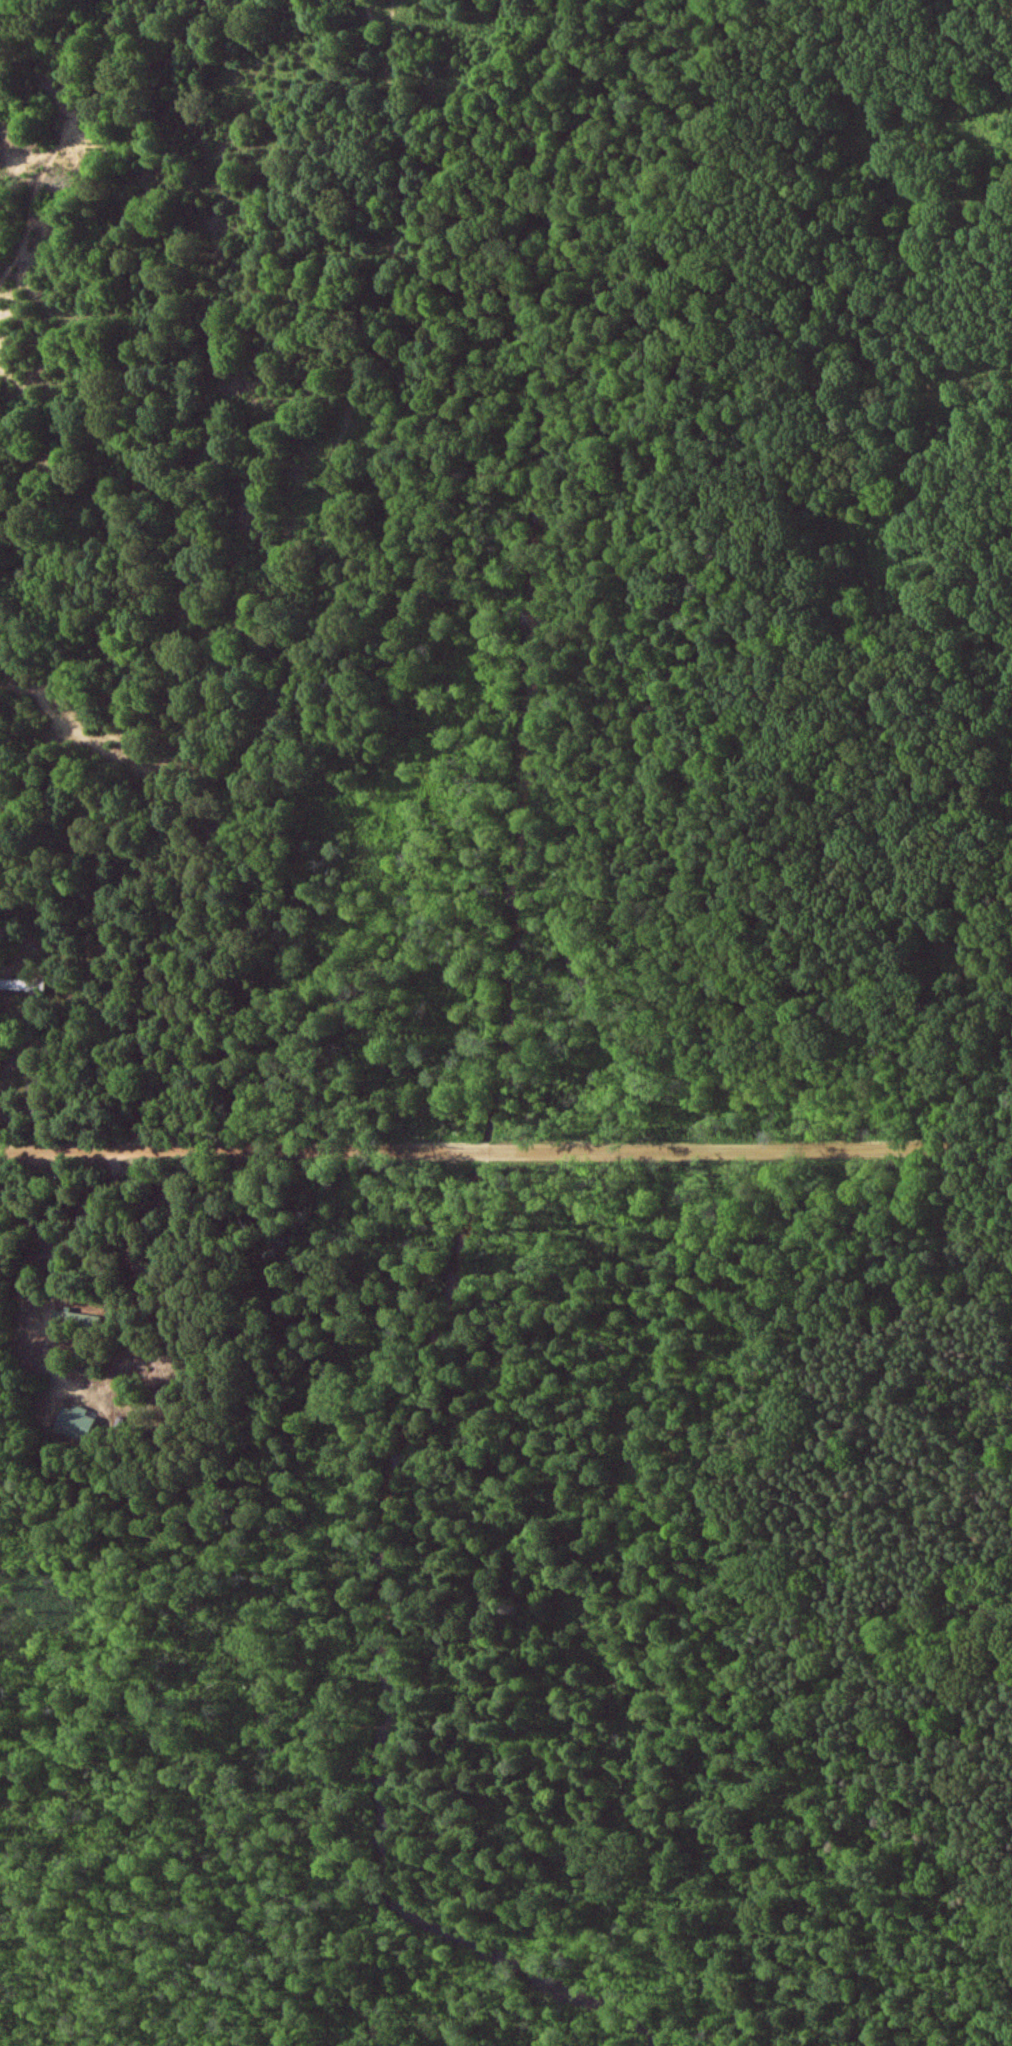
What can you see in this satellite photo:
building: (21, 985)
road: (505, 1148)
building: (77, 1317)
building: (76, 1422)

